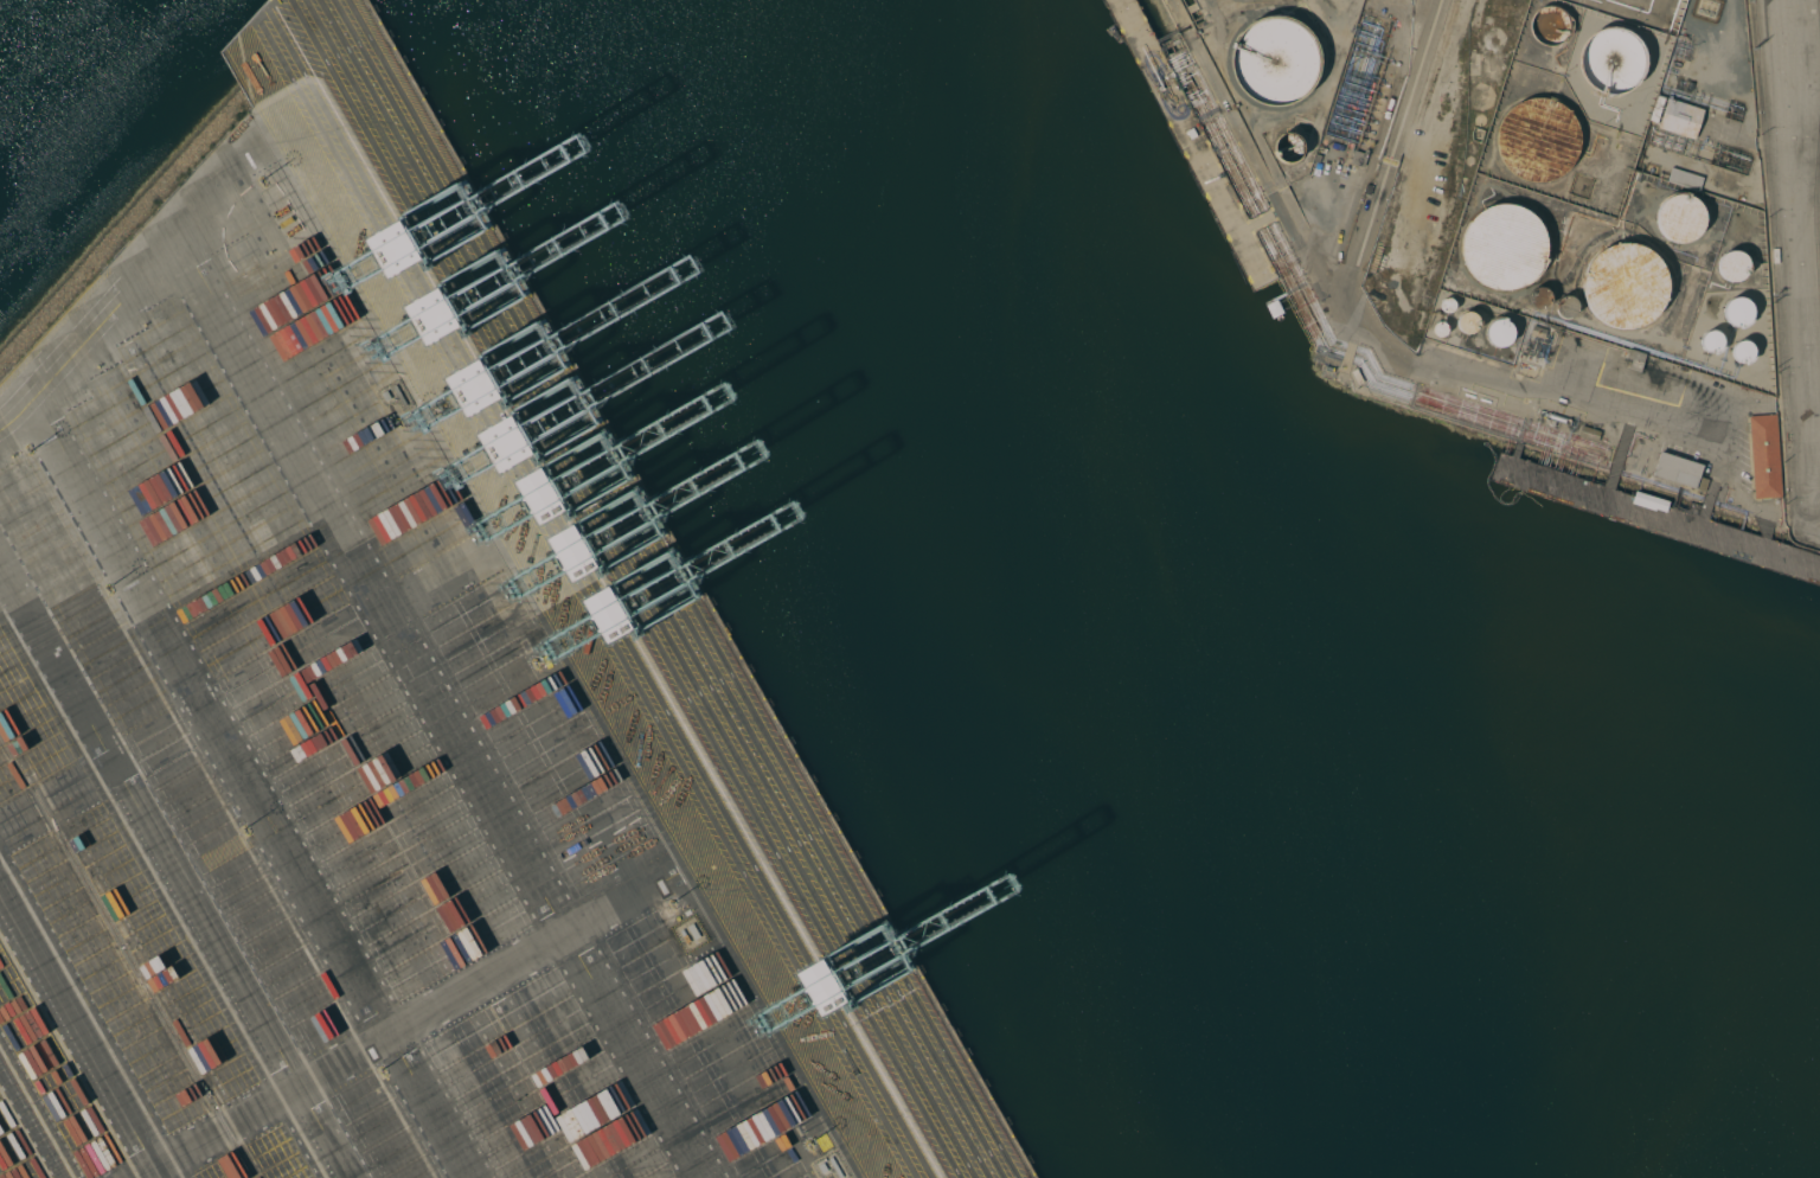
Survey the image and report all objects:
building: (1552, 24)
storage tank: (1552, 24)
building: (262, 25)
building: (1611, 60)
storage tank: (1611, 60)
building: (1274, 63)
storage tank: (1274, 63)
building: (251, 75)
building: (1683, 119)
building: (1191, 133)
building: (1539, 137)
storage tank: (1539, 137)
storage tank: (1289, 145)
building: (1359, 158)
building: (1687, 179)
road: (238, 180)
building: (1367, 188)
building: (1681, 219)
storage tank: (1681, 219)
building: (1504, 247)
storage tank: (1504, 247)
road: (1797, 257)
building: (1732, 265)
storage tank: (1737, 265)
building: (1627, 286)
storage tank: (1627, 286)
storage tank: (1540, 299)
storage tank: (1447, 306)
storage tank: (1568, 307)
storage tank: (1742, 312)
building: (1466, 322)
storage tank: (1467, 324)
road: (90, 327)
building: (1440, 329)
storage tank: (1440, 331)
building: (1499, 332)
building: (1540, 333)
storage tank: (1499, 334)
storage tank: (1713, 342)
storage tank: (1747, 353)
building: (1635, 359)
building: (1590, 435)
building: (1768, 457)
building: (1683, 473)
building: (1648, 501)
pier: (1658, 517)
road: (444, 710)
road: (168, 870)
road: (77, 1027)
road: (374, 1033)

